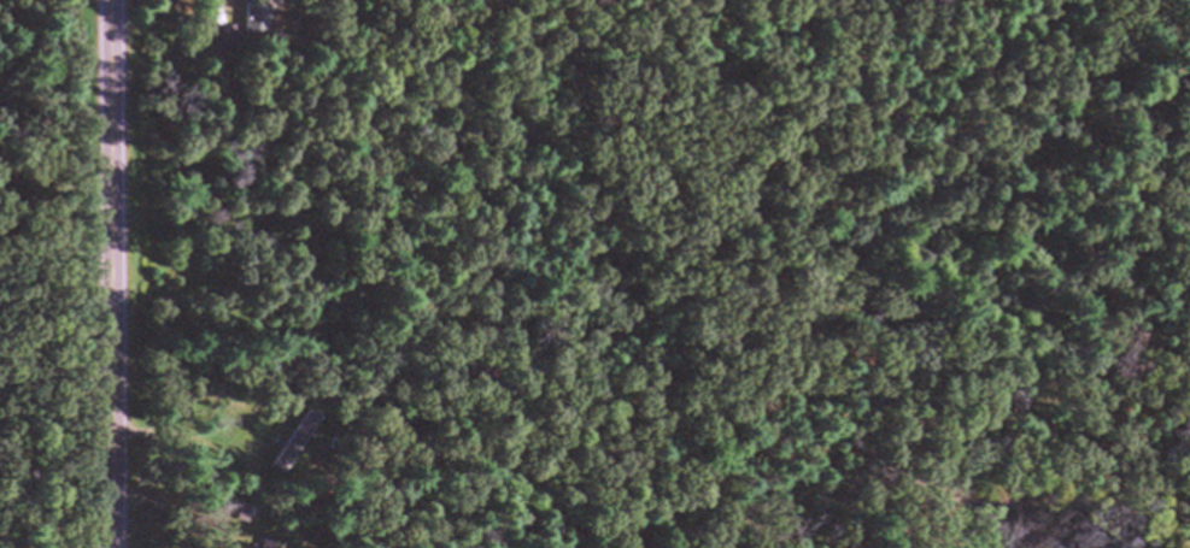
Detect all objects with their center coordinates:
building: (253, 18)
building: (223, 39)
road: (112, 273)
building: (295, 440)
building: (262, 543)

